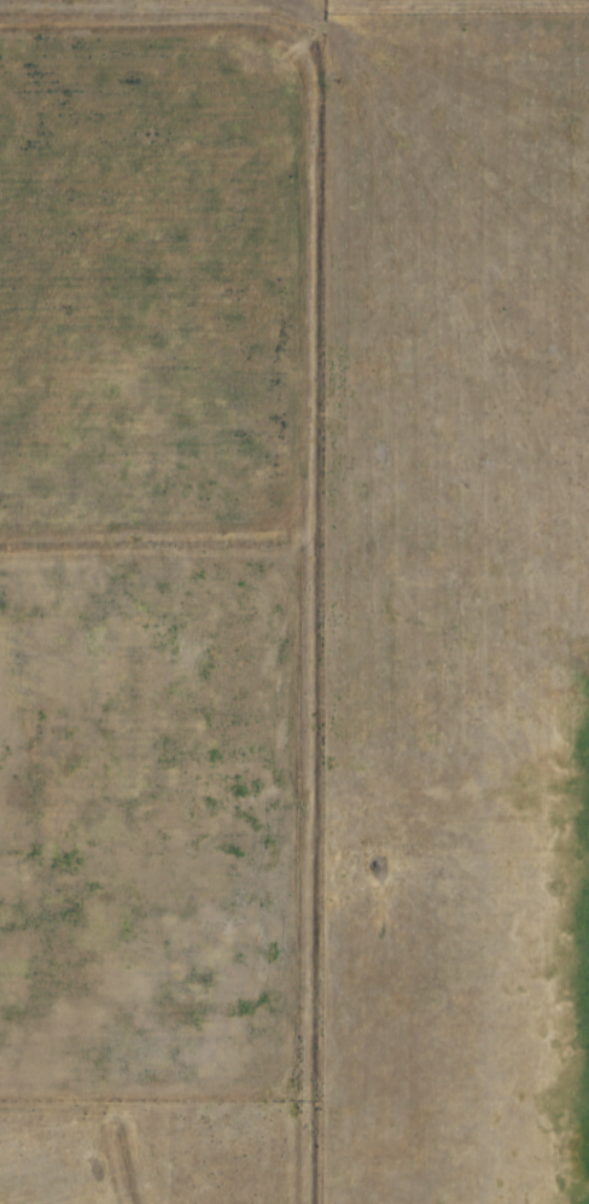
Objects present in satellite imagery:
crop: (462, 6)
crop: (154, 296)
crop: (153, 819)
crop: (544, 954)

